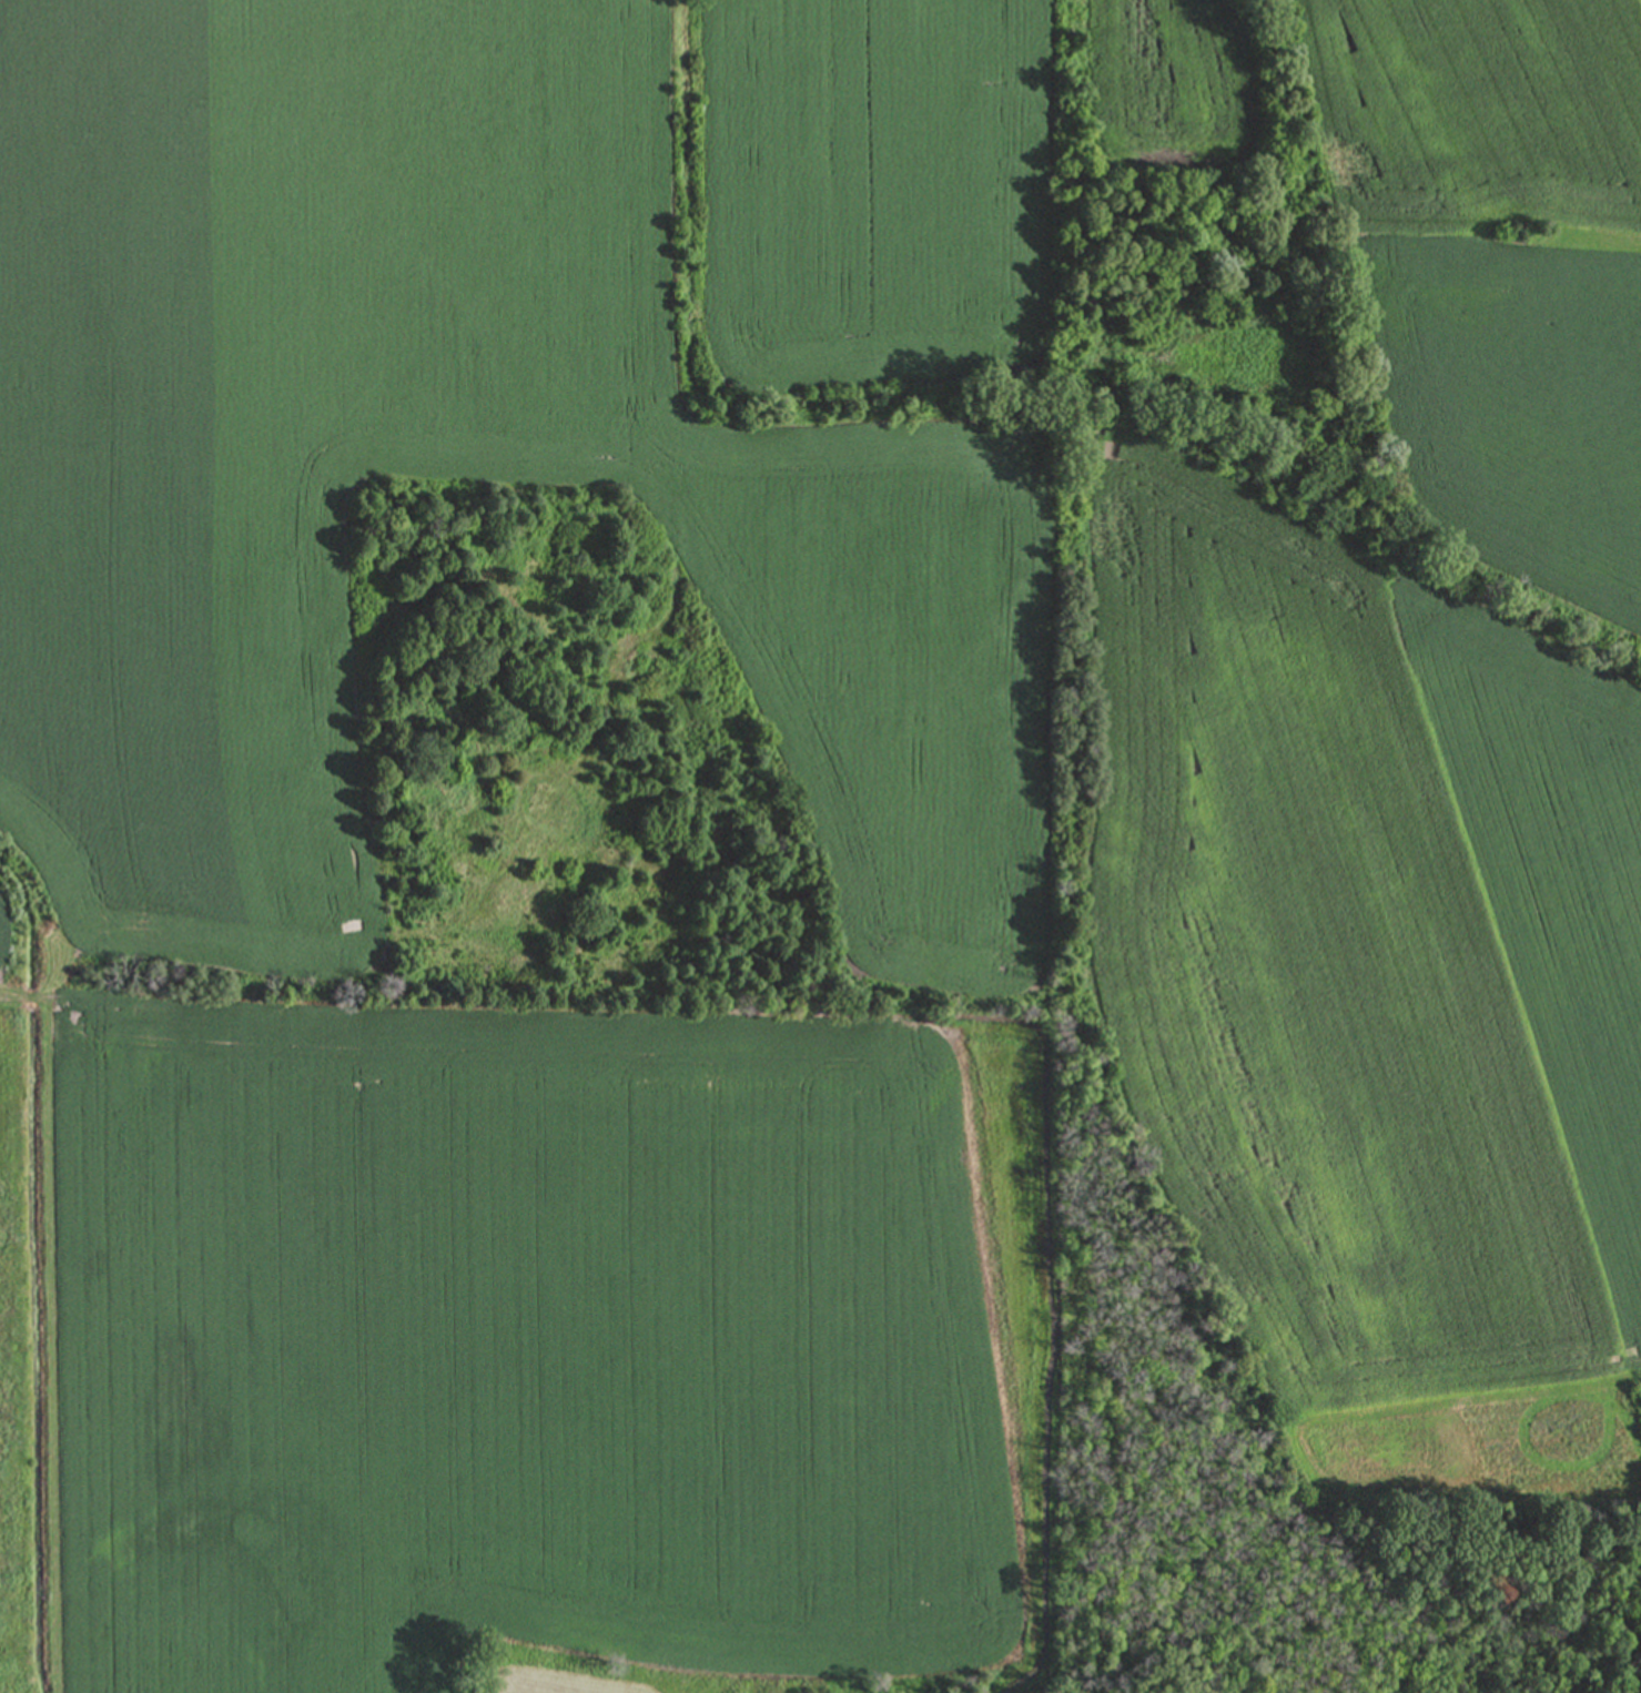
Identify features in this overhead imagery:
crop: (881, 189)

